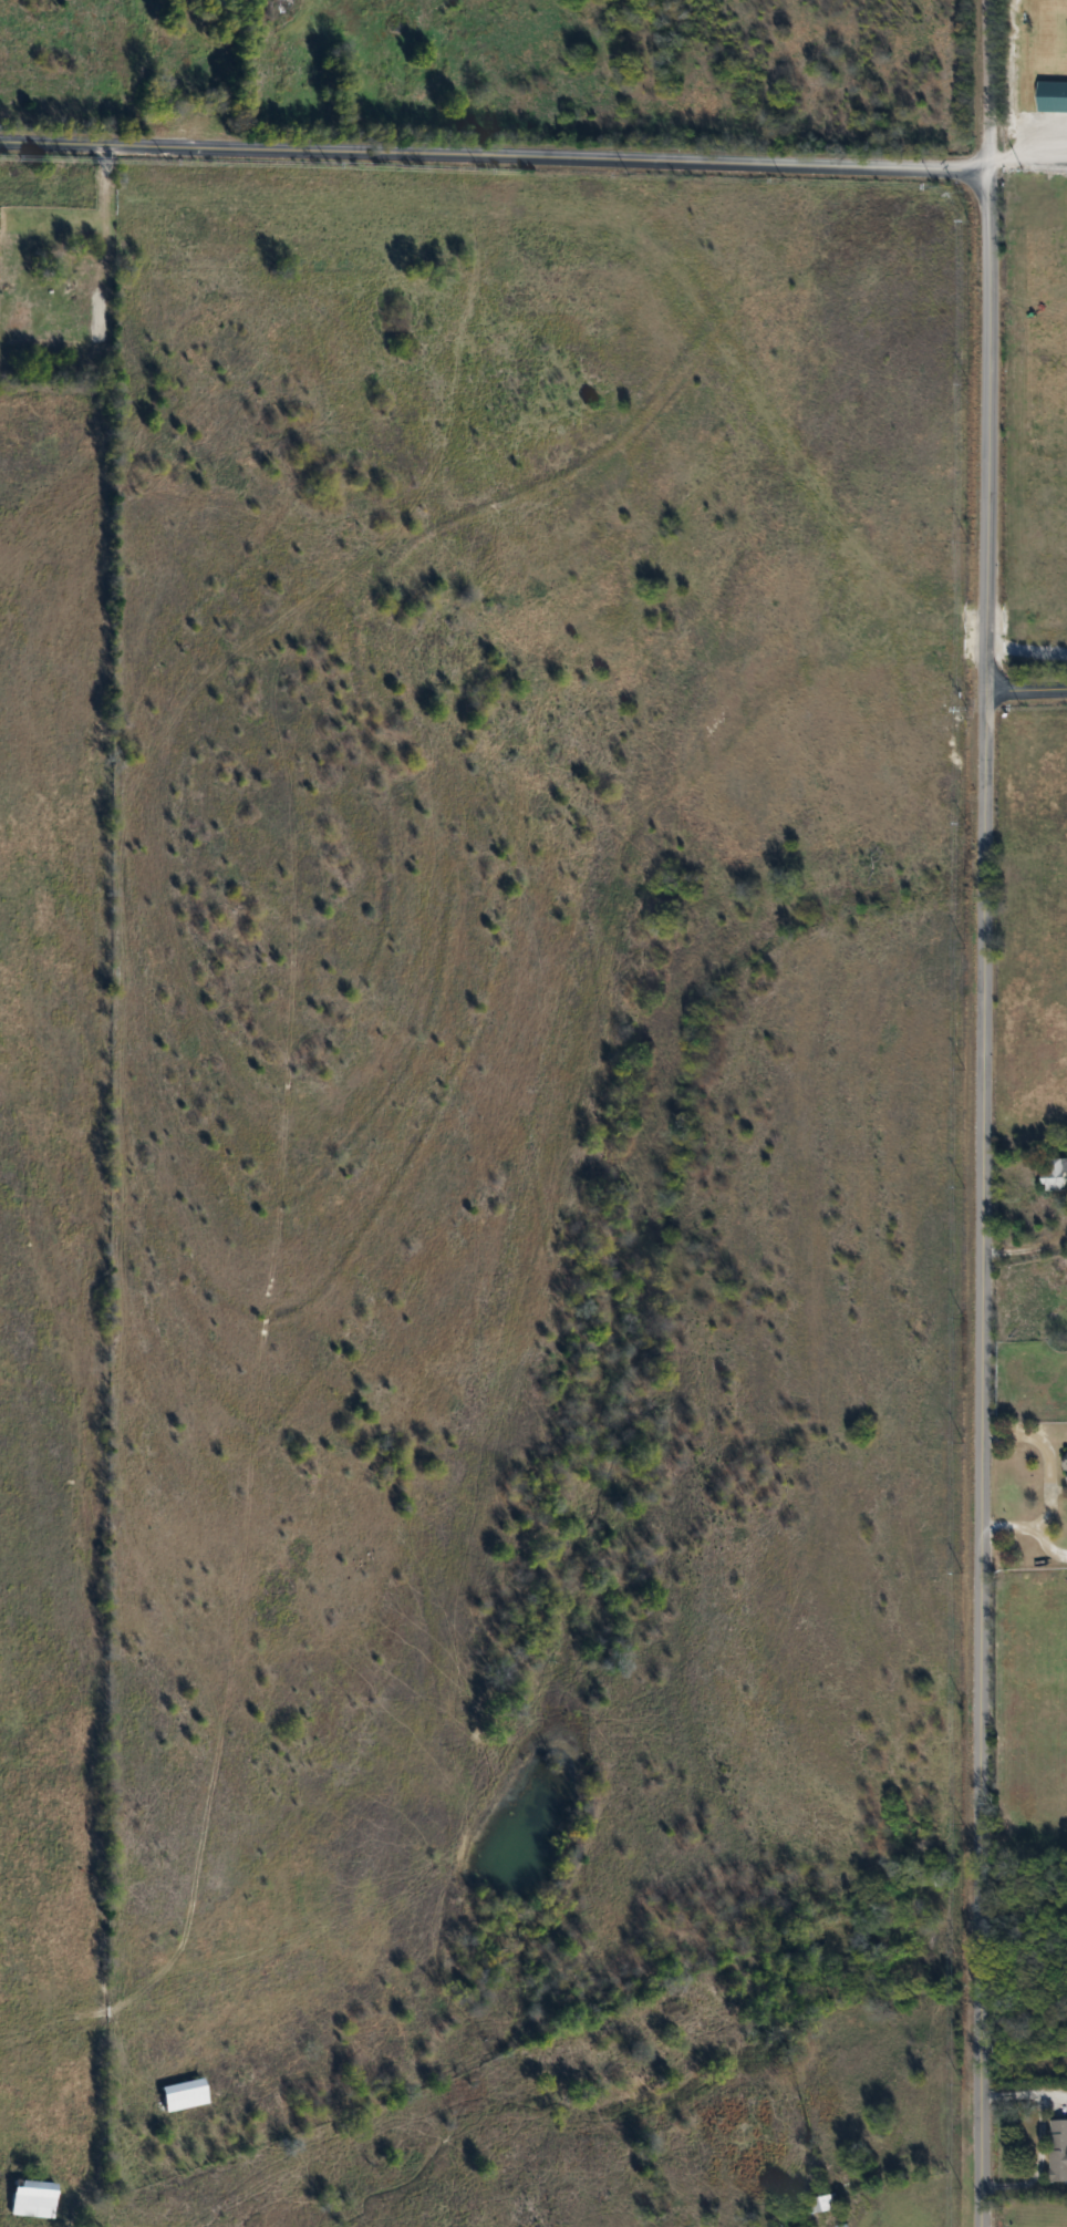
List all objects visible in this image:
road: (986, 84)
road: (494, 155)
road: (1027, 156)
road: (1027, 691)
building: (1054, 1175)
road: (977, 1197)
road: (1024, 1249)
building: (1066, 1467)
building: (178, 2094)
building: (1058, 2151)
building: (28, 2198)
building: (821, 2203)

